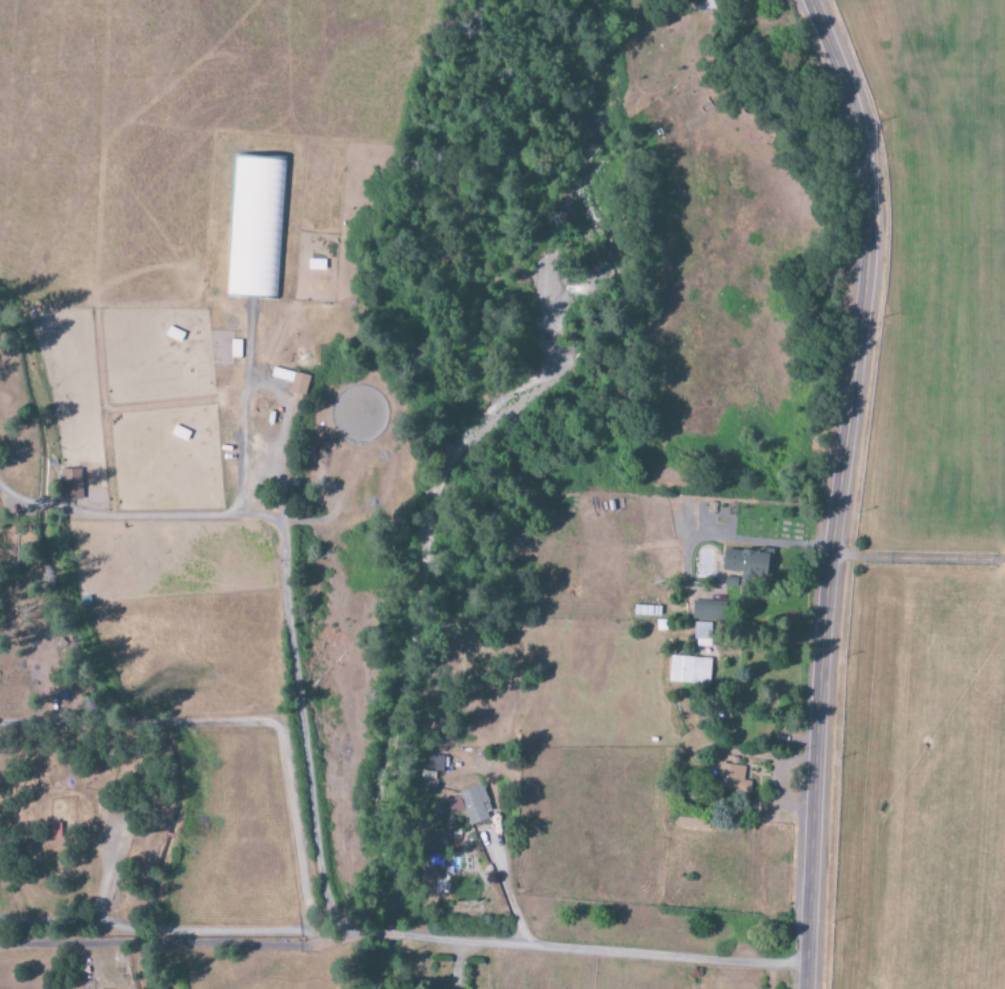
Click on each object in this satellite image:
building: (255, 227)
building: (296, 383)
building: (71, 485)
road: (838, 488)
road: (916, 559)
building: (748, 563)
building: (703, 612)
building: (702, 635)
building: (689, 670)
building: (435, 763)
building: (733, 778)
building: (469, 805)
road: (562, 948)

